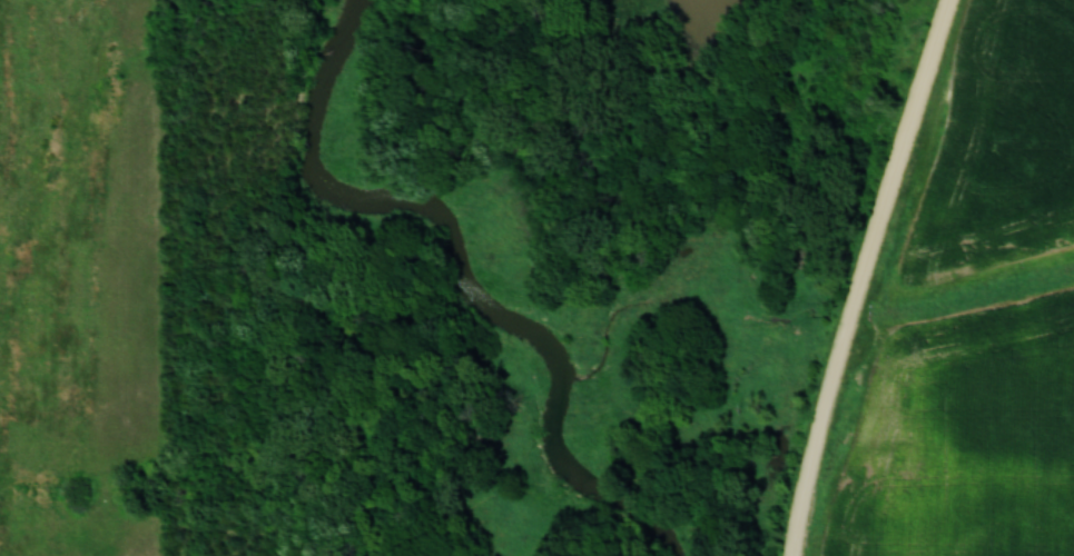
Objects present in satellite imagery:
park: (520, 266)
road: (866, 276)

